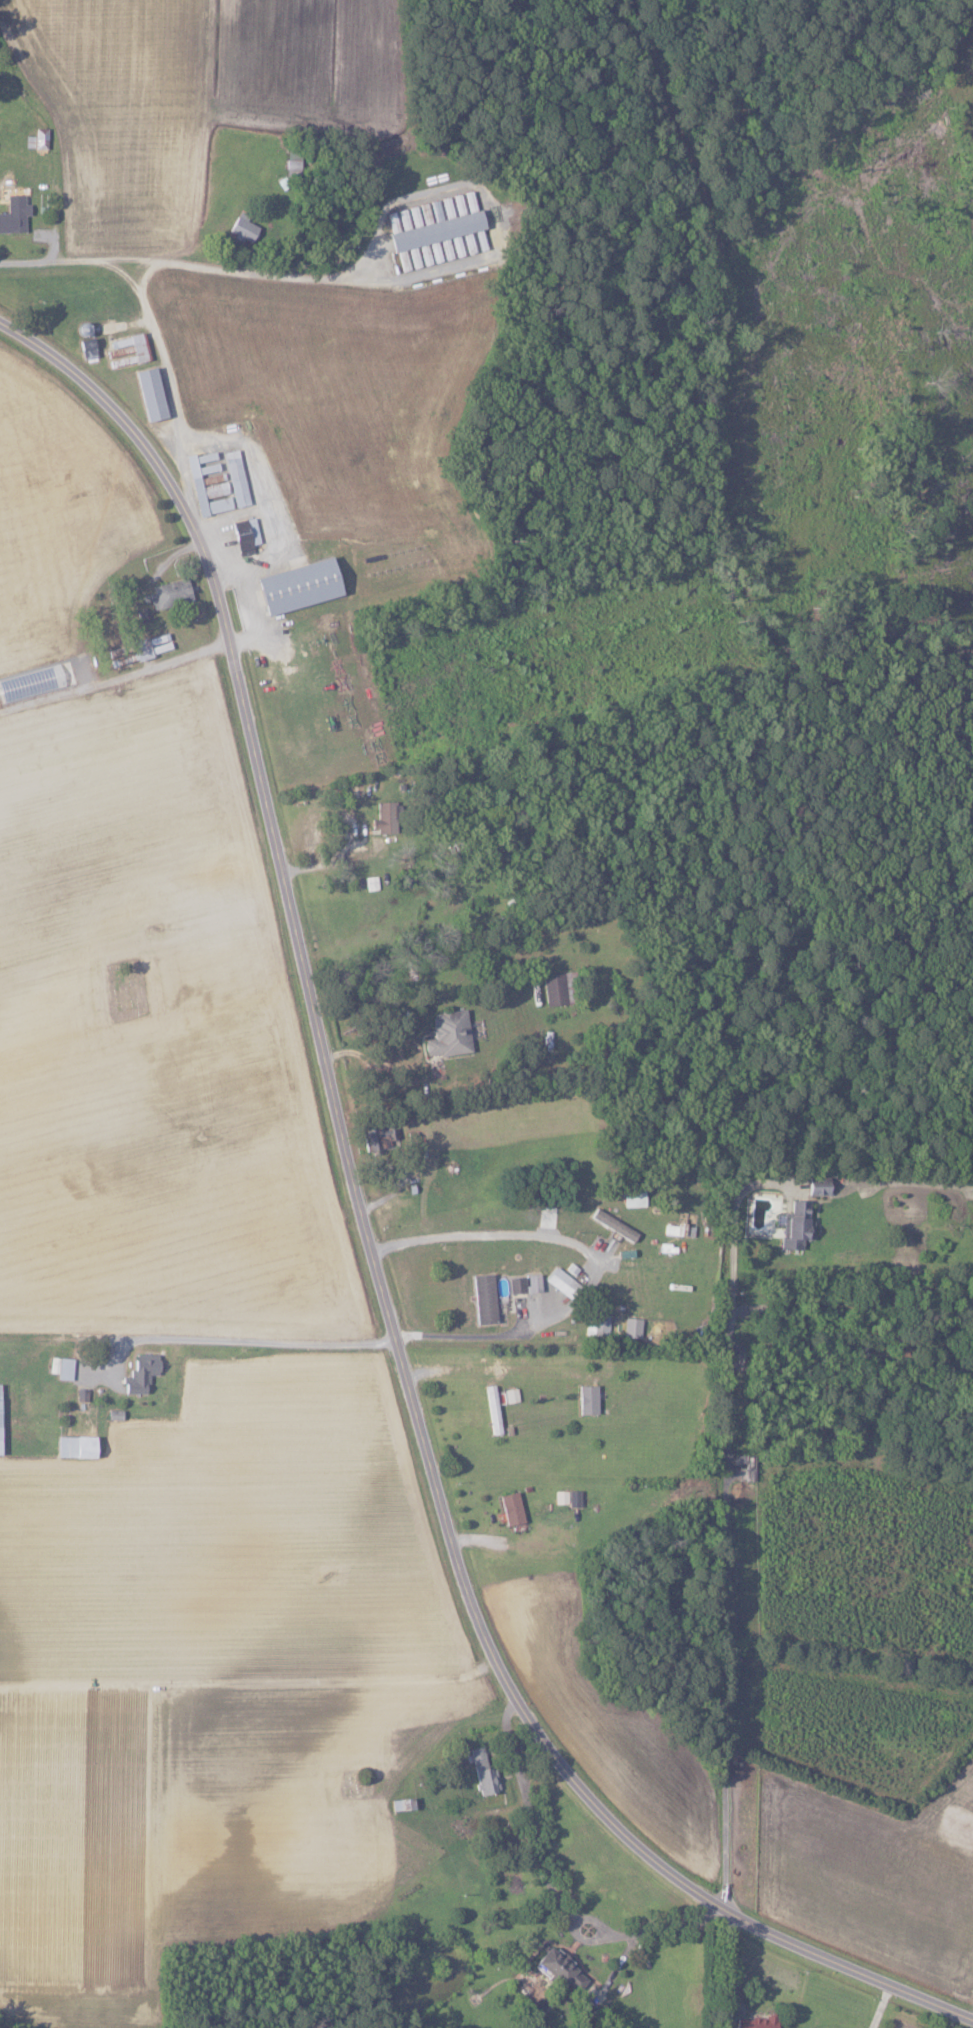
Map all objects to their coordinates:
building: (13, 214)
building: (418, 214)
building: (241, 230)
building: (435, 231)
road: (240, 272)
road: (148, 273)
building: (85, 349)
building: (125, 351)
building: (148, 394)
road: (227, 440)
road: (181, 472)
road: (233, 512)
building: (244, 537)
building: (295, 586)
building: (170, 593)
road: (122, 676)
building: (383, 817)
road: (332, 851)
building: (557, 987)
building: (446, 1033)
building: (816, 1185)
building: (634, 1198)
building: (794, 1225)
road: (368, 1252)
road: (732, 1254)
road: (591, 1259)
building: (532, 1282)
building: (561, 1282)
building: (483, 1299)
building: (595, 1320)
road: (238, 1336)
road: (481, 1355)
building: (60, 1367)
building: (139, 1373)
building: (586, 1399)
building: (492, 1409)
building: (74, 1446)
building: (744, 1467)
building: (566, 1497)
building: (510, 1508)
road: (724, 1630)
building: (482, 1772)
road: (529, 1816)
road: (659, 1929)
building: (557, 1970)
building: (752, 2022)

